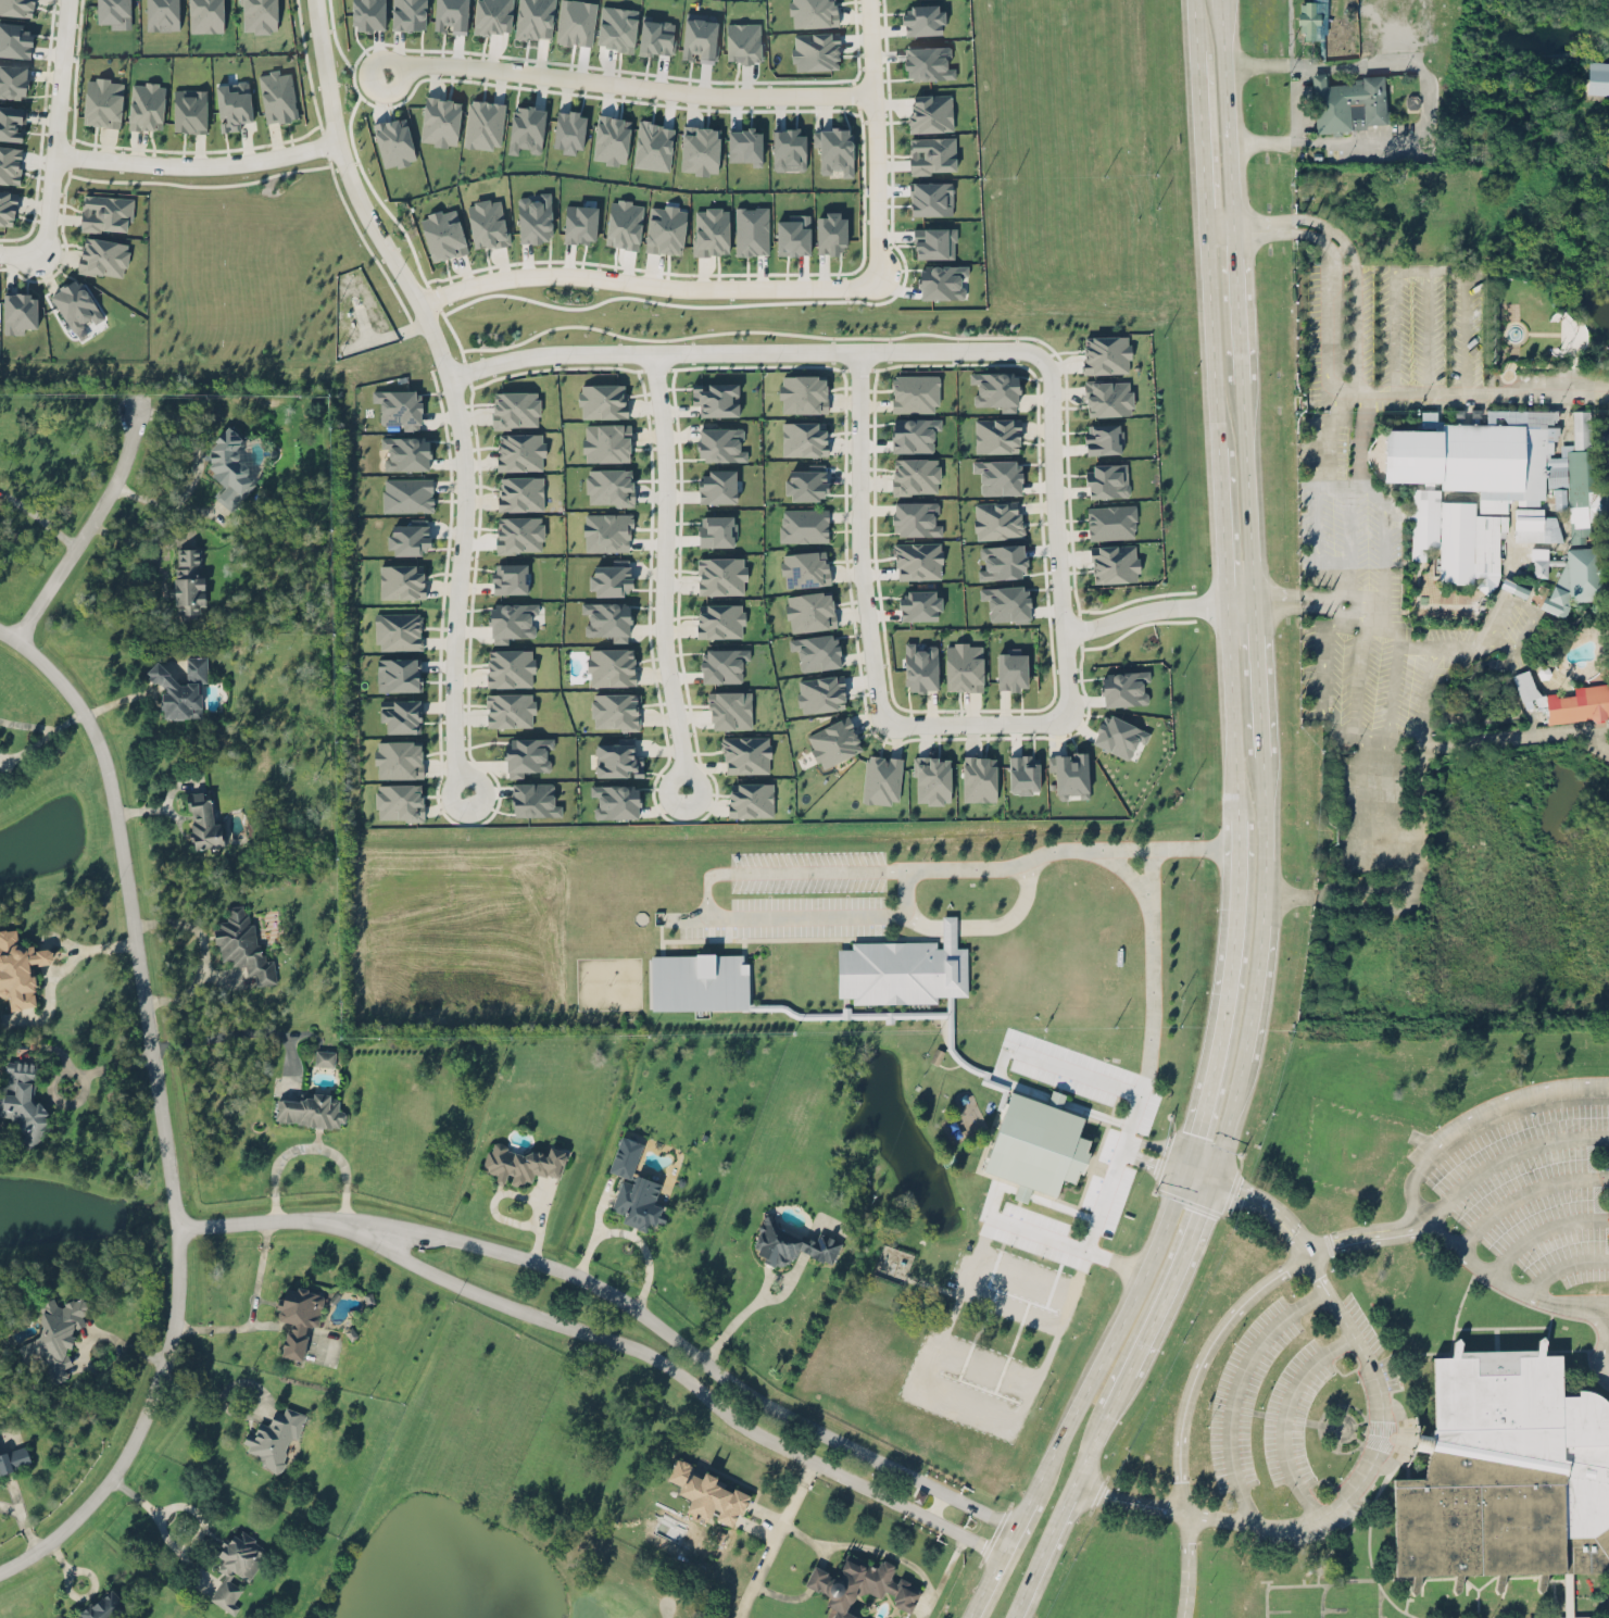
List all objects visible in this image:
building: (17, 7)
building: (114, 13)
building: (814, 13)
building: (163, 14)
building: (368, 14)
building: (408, 14)
building: (206, 15)
building: (259, 15)
building: (493, 16)
building: (535, 18)
building: (923, 20)
building: (1313, 20)
building: (576, 22)
road: (1193, 26)
building: (617, 27)
building: (656, 37)
building: (699, 37)
building: (15, 40)
building: (743, 41)
building: (816, 51)
building: (928, 62)
building: (1598, 77)
building: (13, 80)
road: (628, 84)
building: (278, 96)
building: (103, 102)
building: (1348, 103)
building: (234, 104)
building: (147, 105)
building: (190, 110)
road: (1225, 110)
building: (931, 112)
building: (440, 121)
building: (12, 123)
building: (485, 124)
road: (55, 126)
building: (526, 128)
building: (569, 131)
building: (612, 139)
road: (878, 139)
building: (393, 142)
road: (1199, 145)
building: (653, 146)
building: (744, 146)
building: (700, 149)
building: (789, 149)
building: (834, 149)
building: (932, 154)
building: (10, 164)
road: (196, 165)
building: (931, 198)
building: (8, 206)
building: (105, 212)
building: (535, 218)
road: (1218, 221)
building: (487, 223)
building: (580, 223)
building: (624, 224)
road: (1232, 228)
building: (665, 229)
building: (711, 230)
building: (752, 230)
building: (830, 233)
building: (443, 234)
building: (793, 235)
road: (1219, 237)
building: (934, 242)
road: (1347, 250)
road: (22, 252)
building: (103, 256)
road: (1333, 264)
building: (942, 280)
road: (650, 284)
road: (1465, 293)
building: (76, 304)
road: (1236, 310)
building: (20, 312)
road: (363, 325)
road: (385, 337)
road: (1396, 339)
road: (1211, 340)
road: (739, 349)
building: (1106, 353)
road: (450, 382)
road: (1336, 386)
road: (1352, 386)
building: (996, 389)
road: (1476, 390)
building: (804, 393)
building: (915, 393)
building: (1108, 398)
building: (716, 399)
building: (603, 401)
building: (400, 407)
building: (516, 409)
building: (1469, 415)
building: (914, 434)
building: (996, 435)
building: (804, 438)
building: (1103, 438)
building: (606, 442)
building: (720, 444)
building: (520, 451)
building: (406, 453)
building: (1505, 462)
building: (229, 465)
road: (197, 469)
building: (915, 475)
building: (1000, 476)
building: (1108, 480)
building: (807, 482)
building: (609, 486)
building: (717, 486)
road: (1246, 491)
building: (520, 493)
building: (407, 494)
road: (39, 517)
building: (916, 518)
building: (997, 519)
building: (1111, 522)
road: (1221, 522)
building: (1424, 522)
building: (804, 525)
building: (1535, 525)
road: (88, 530)
building: (716, 530)
building: (607, 531)
building: (519, 534)
road: (860, 534)
road: (1057, 536)
building: (411, 537)
road: (1336, 540)
building: (1469, 544)
building: (918, 561)
building: (1003, 561)
building: (1539, 562)
building: (1115, 563)
building: (805, 568)
road: (663, 569)
building: (721, 575)
building: (510, 578)
building: (612, 578)
building: (1576, 579)
building: (402, 580)
building: (188, 582)
road: (1239, 600)
building: (1007, 602)
building: (919, 605)
road: (1143, 607)
road: (1532, 607)
building: (810, 611)
building: (607, 619)
building: (512, 620)
building: (720, 620)
building: (399, 630)
road: (1442, 643)
building: (817, 651)
road: (1398, 651)
building: (722, 664)
building: (612, 666)
building: (964, 666)
building: (510, 667)
building: (921, 667)
building: (1011, 669)
building: (399, 674)
road: (1257, 676)
building: (180, 687)
building: (1124, 688)
building: (821, 693)
building: (1567, 700)
building: (510, 710)
building: (730, 710)
road: (1231, 710)
building: (615, 711)
building: (401, 715)
road: (963, 723)
road: (42, 728)
road: (1586, 730)
building: (1119, 736)
building: (834, 742)
road: (1394, 743)
building: (1, 747)
building: (746, 754)
building: (527, 755)
building: (399, 758)
building: (618, 758)
building: (1070, 773)
building: (1025, 774)
building: (979, 778)
building: (882, 779)
building: (932, 779)
building: (535, 799)
building: (751, 799)
building: (400, 801)
building: (616, 801)
building: (203, 820)
road: (1421, 824)
road: (1264, 825)
road: (1184, 846)
road: (1134, 858)
road: (828, 868)
road: (713, 874)
road: (906, 891)
road: (1292, 895)
road: (1411, 898)
road: (1235, 899)
road: (129, 910)
road: (801, 915)
road: (1015, 915)
road: (919, 921)
road: (950, 929)
road: (1259, 940)
building: (242, 943)
building: (20, 968)
building: (903, 968)
building: (699, 980)
road: (1248, 1023)
building: (324, 1056)
road: (83, 1071)
road: (1210, 1074)
road: (1110, 1081)
building: (24, 1100)
building: (311, 1111)
road: (1475, 1118)
road: (1228, 1121)
building: (1036, 1143)
road: (1507, 1158)
building: (523, 1163)
traffic signals: (1186, 1169)
traffic signals: (1211, 1178)
building: (634, 1188)
parking lot: (1530, 1191)
road: (1106, 1196)
road: (1261, 1199)
road: (253, 1222)
road: (1043, 1230)
road: (593, 1231)
road: (1541, 1232)
road: (1368, 1236)
building: (790, 1243)
road: (643, 1250)
road: (1561, 1265)
road: (1507, 1291)
road: (1162, 1294)
road: (757, 1301)
road: (254, 1312)
building: (298, 1316)
road: (1600, 1332)
road: (92, 1333)
building: (54, 1335)
road: (671, 1335)
road: (1114, 1335)
road: (141, 1355)
road: (662, 1360)
road: (1204, 1360)
road: (1237, 1390)
road: (966, 1403)
road: (243, 1414)
road: (1285, 1415)
road: (140, 1428)
building: (275, 1437)
road: (1091, 1445)
road: (1375, 1456)
building: (14, 1457)
building: (1506, 1470)
building: (0, 1481)
building: (708, 1493)
road: (1130, 1502)
road: (198, 1513)
road: (158, 1521)
road: (1004, 1523)
road: (776, 1539)
road: (1043, 1550)
road: (990, 1552)
road: (895, 1555)
road: (825, 1556)
road: (1006, 1557)
road: (1190, 1565)
building: (237, 1567)
park: (512, 1567)
road: (815, 1578)
building: (860, 1585)
road: (783, 1594)
building: (103, 1606)
road: (977, 1617)

